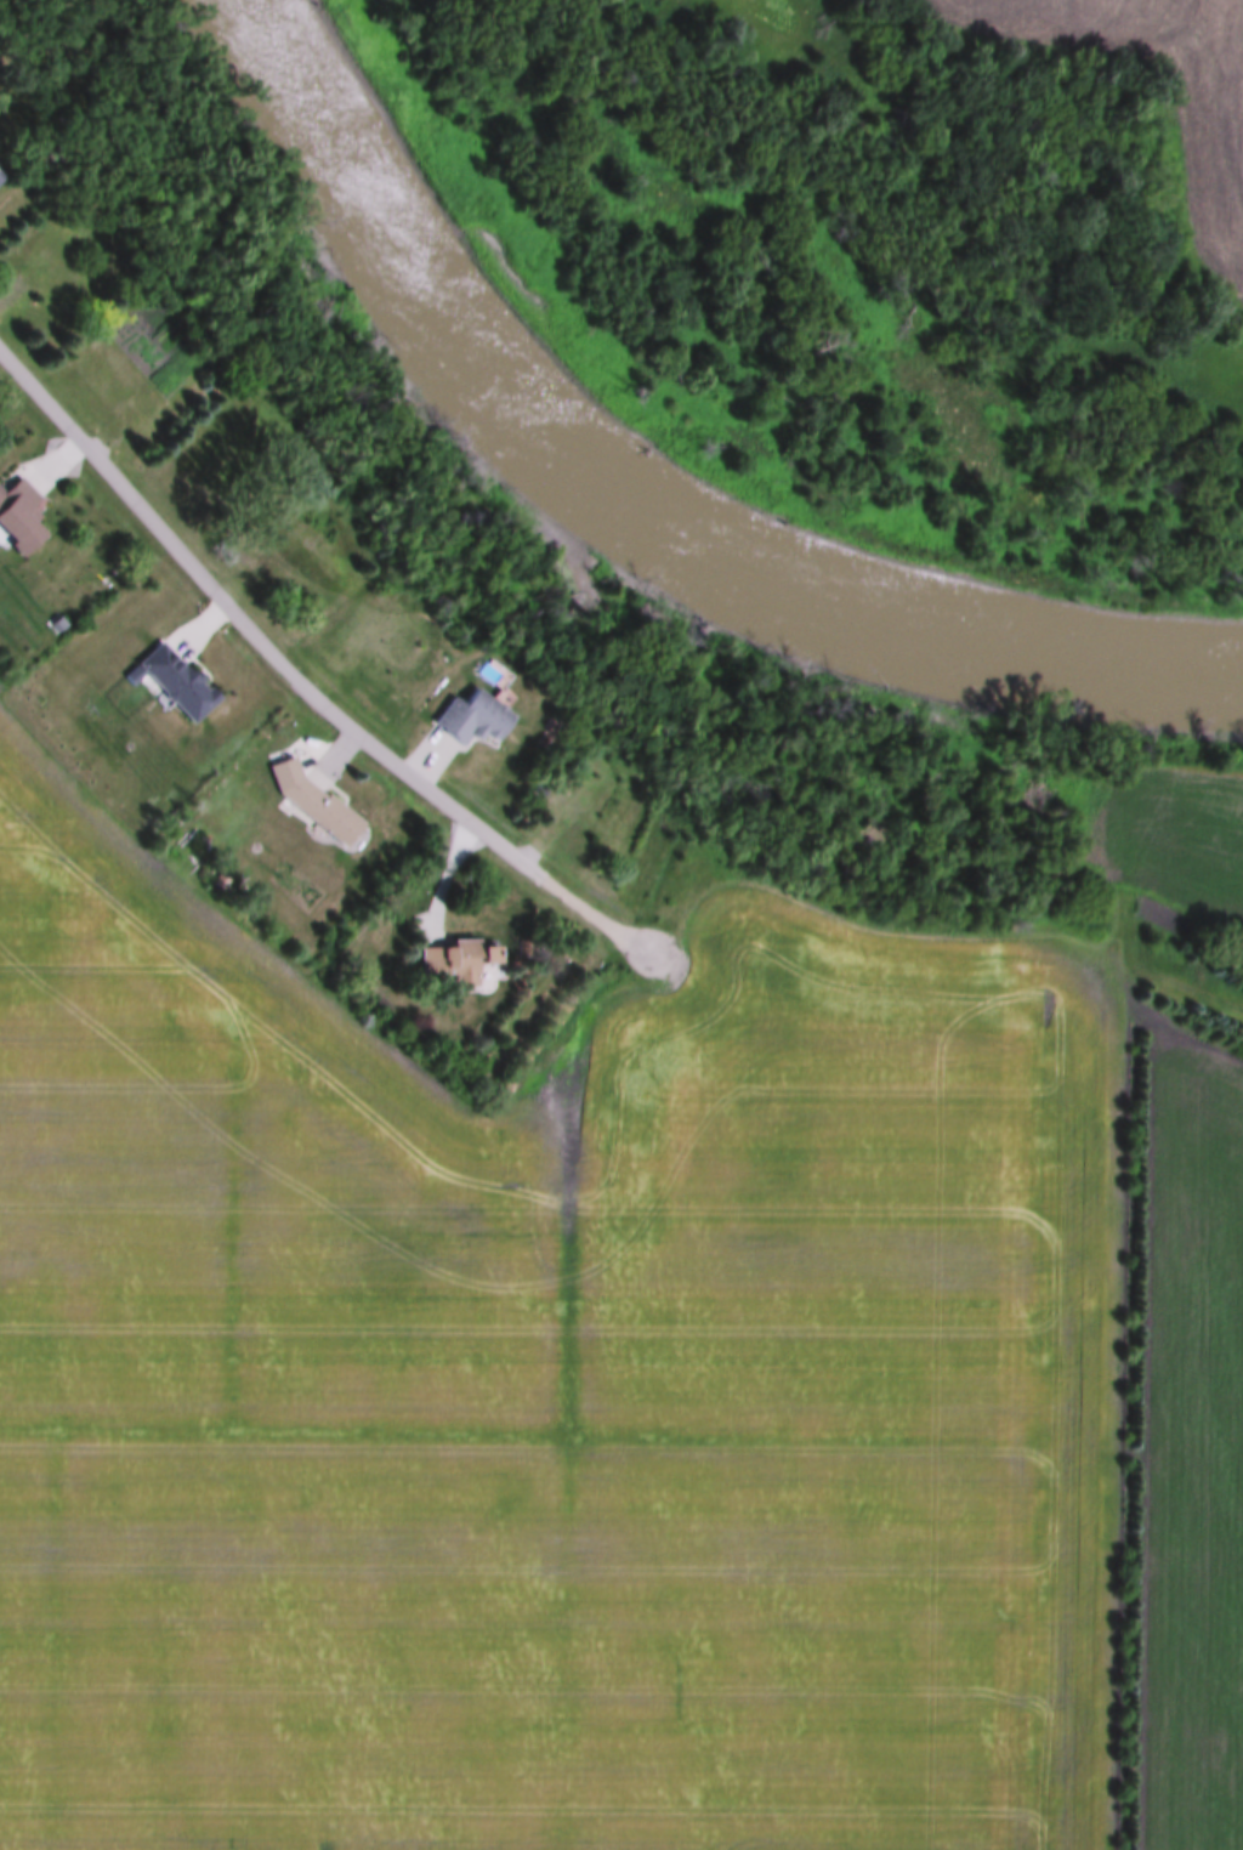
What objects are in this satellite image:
crop: (1208, 136)
building: (1, 175)
river: (662, 483)
building: (18, 513)
building: (296, 554)
road: (252, 632)
building: (382, 632)
building: (175, 679)
building: (470, 715)
building: (588, 776)
building: (312, 800)
building: (605, 806)
road: (595, 915)
building: (456, 960)
crop: (561, 1374)
crop: (1190, 1449)

